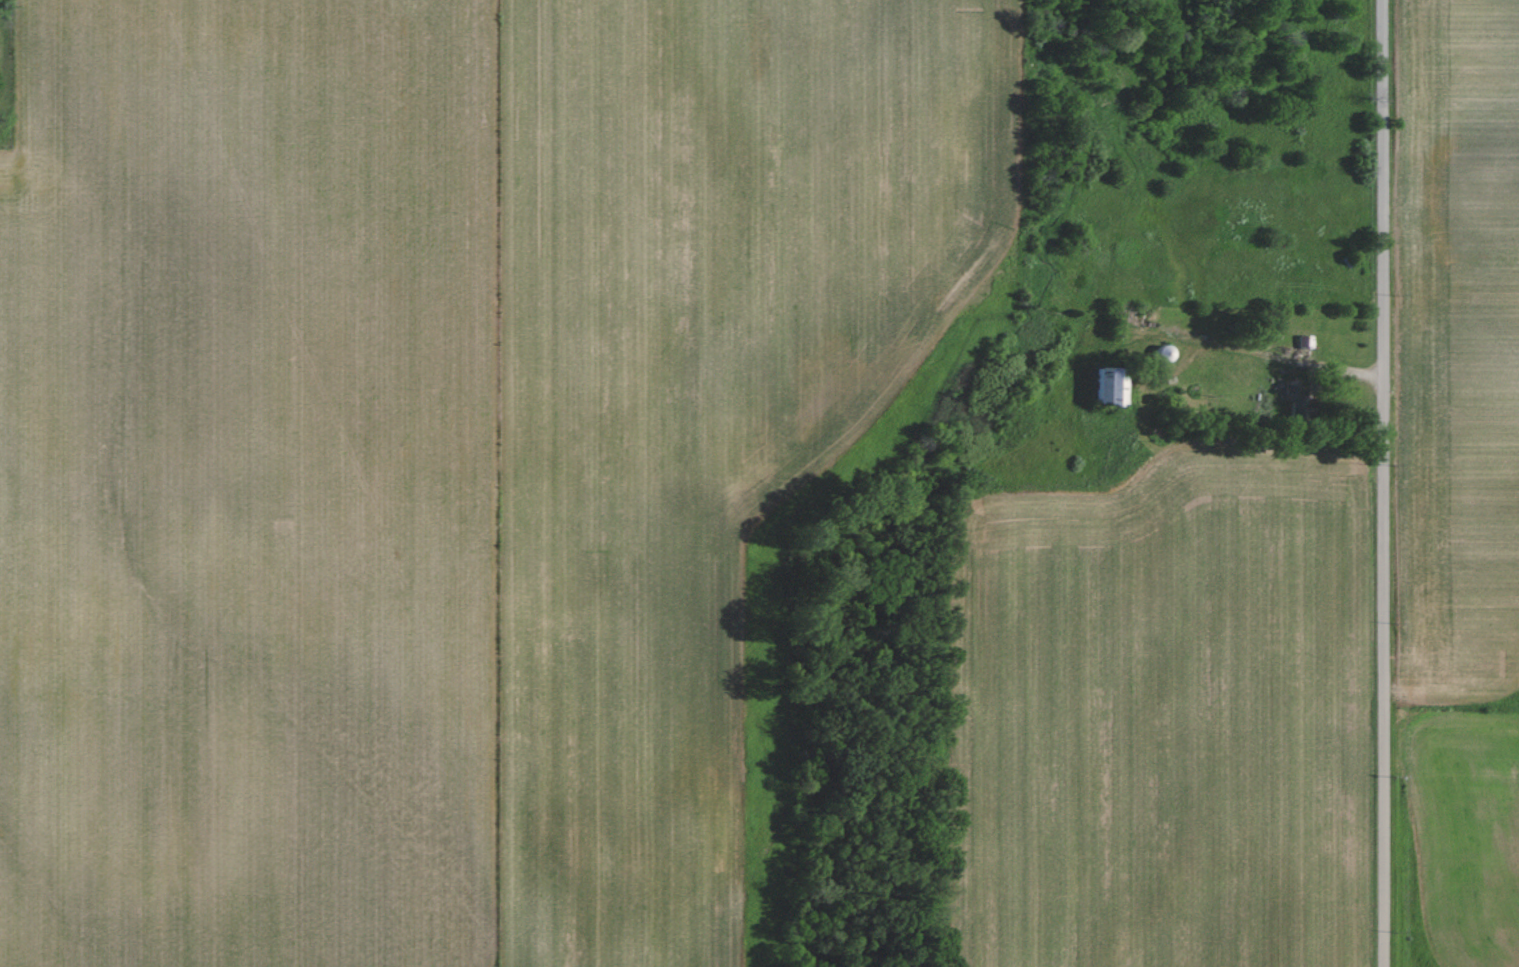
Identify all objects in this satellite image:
building: (1106, 390)
building: (1293, 402)
road: (1384, 483)

